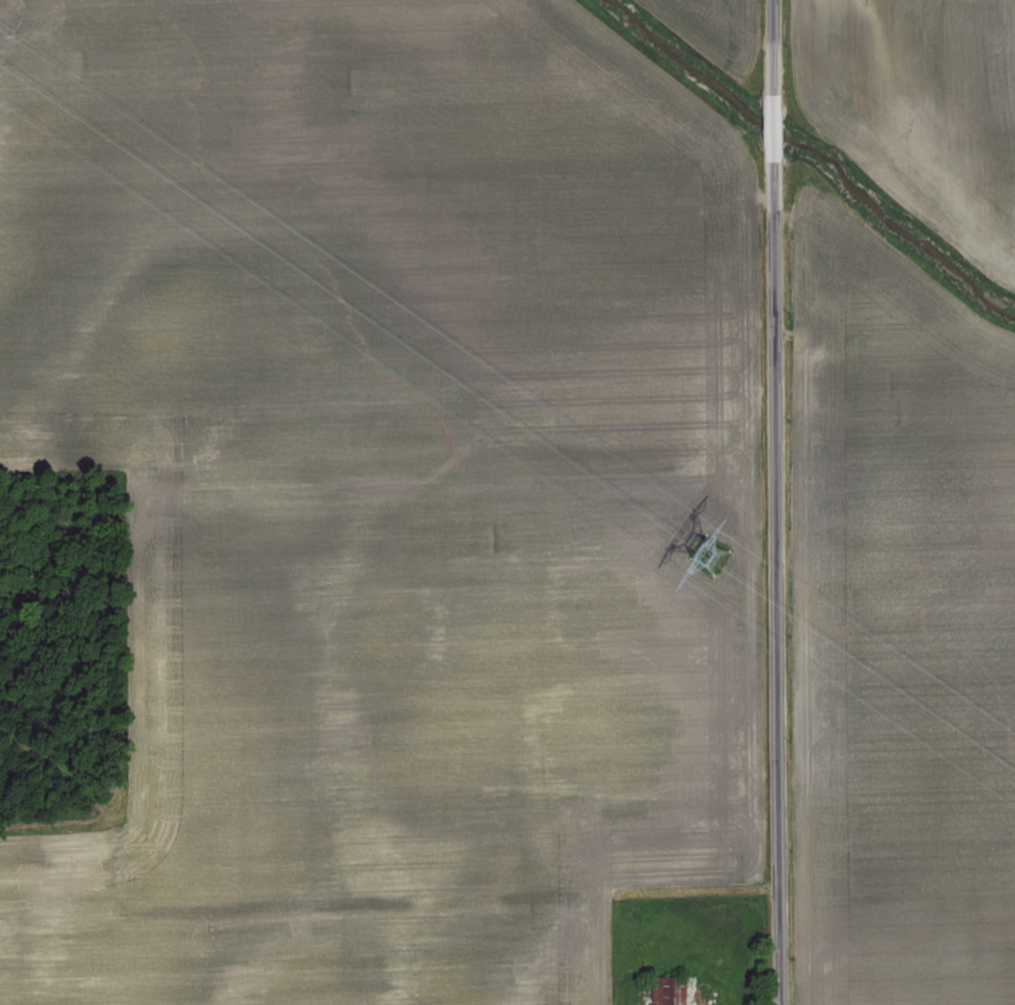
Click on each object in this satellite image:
road: (774, 502)
power tower: (723, 566)
building: (668, 989)

